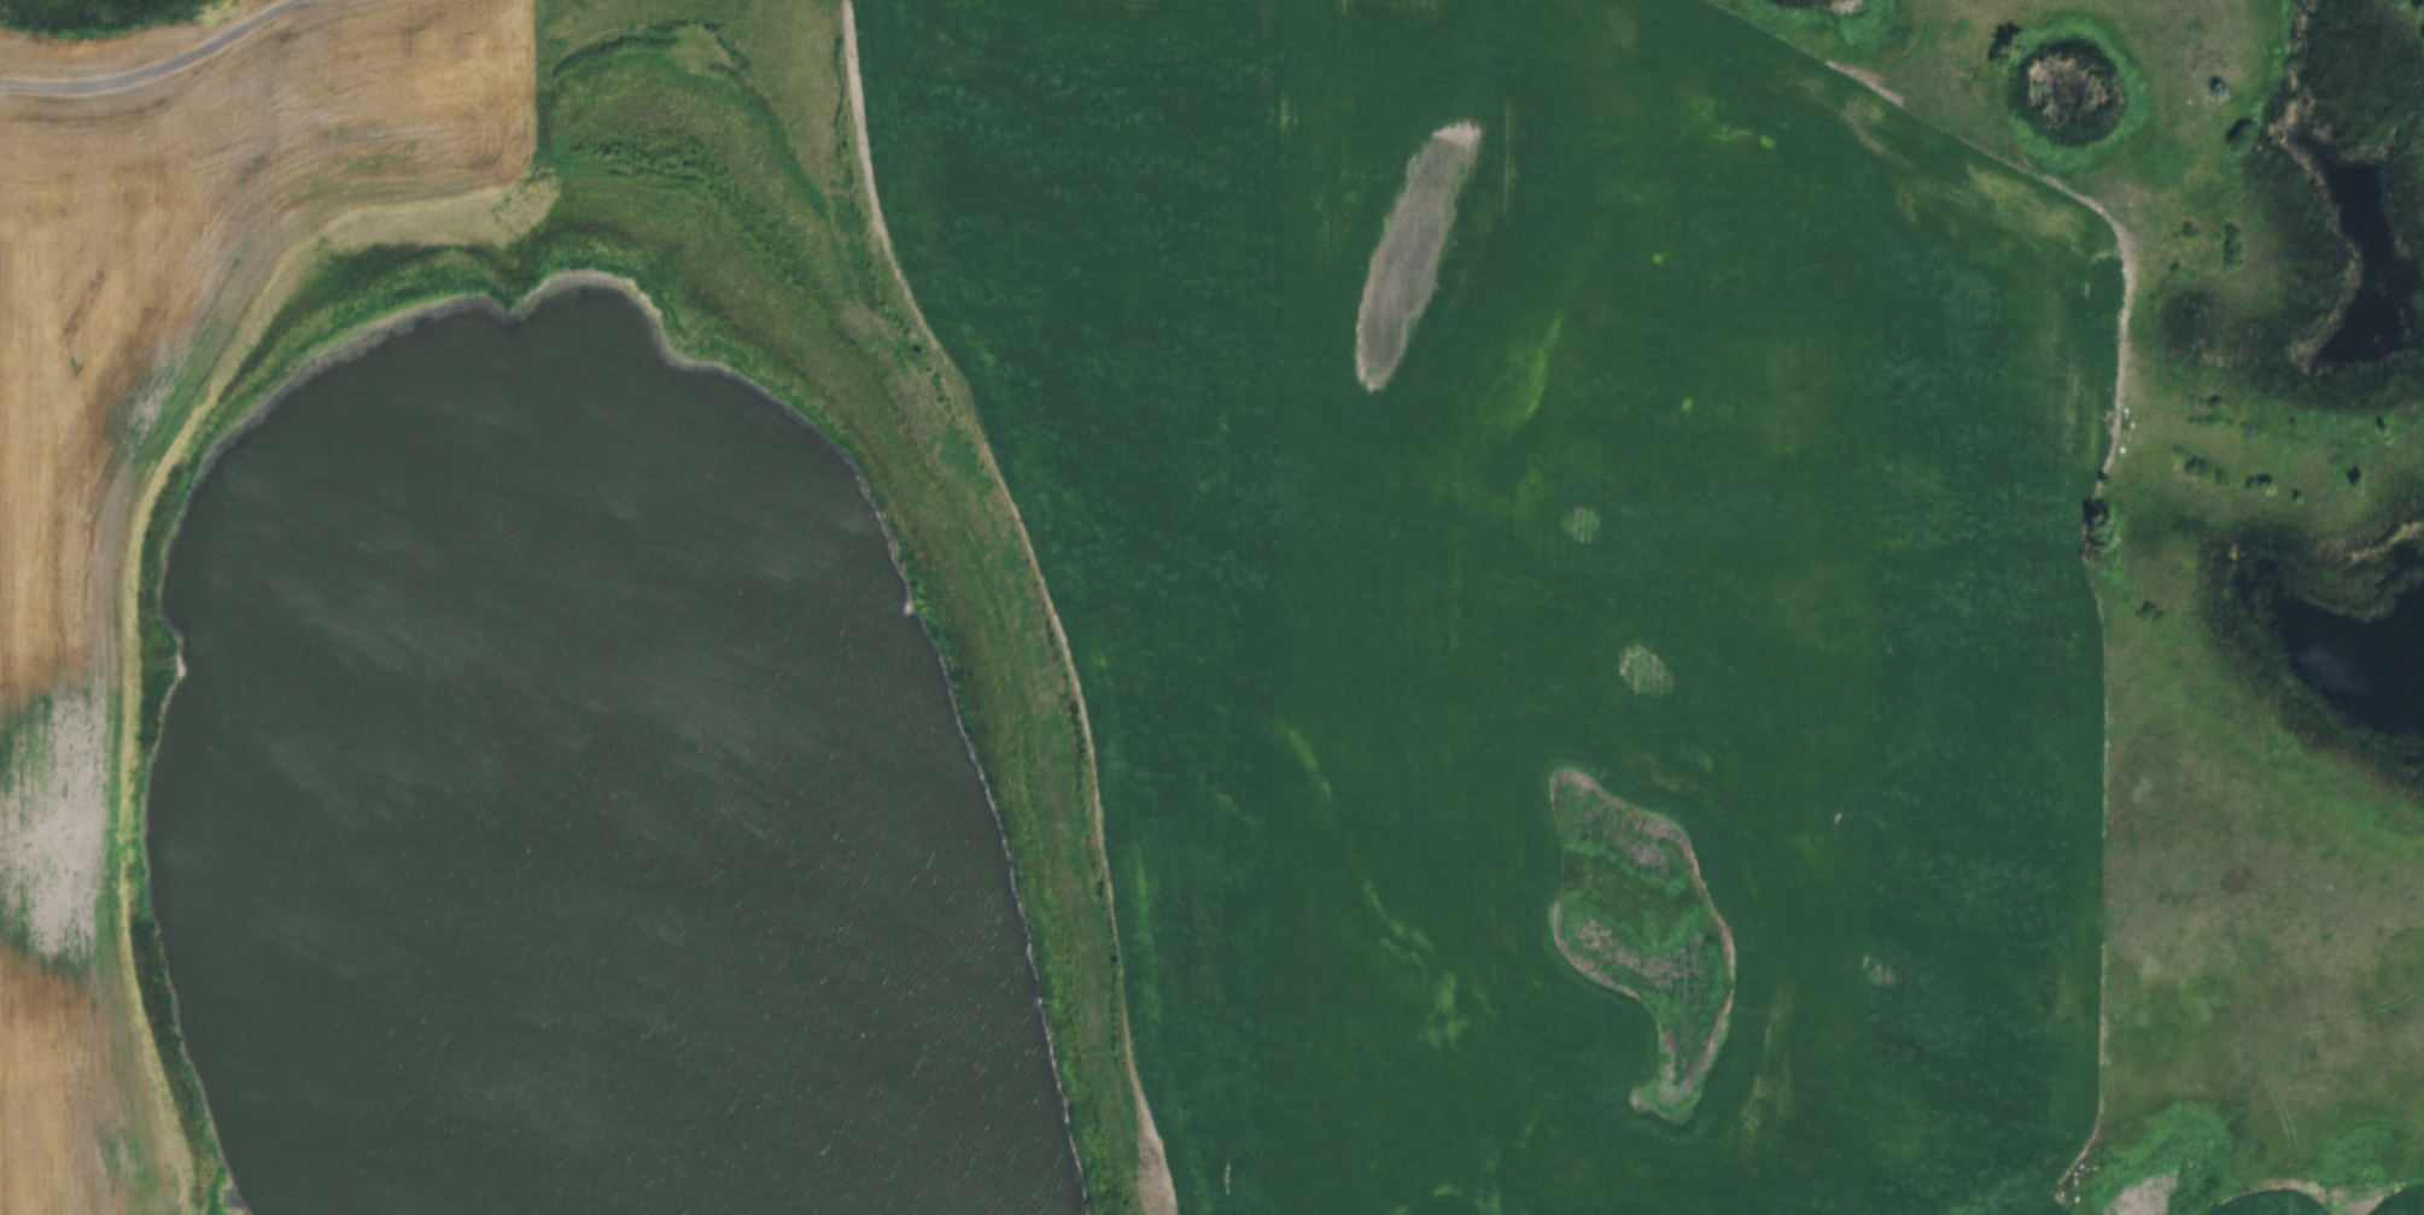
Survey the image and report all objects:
road: (169, 80)

